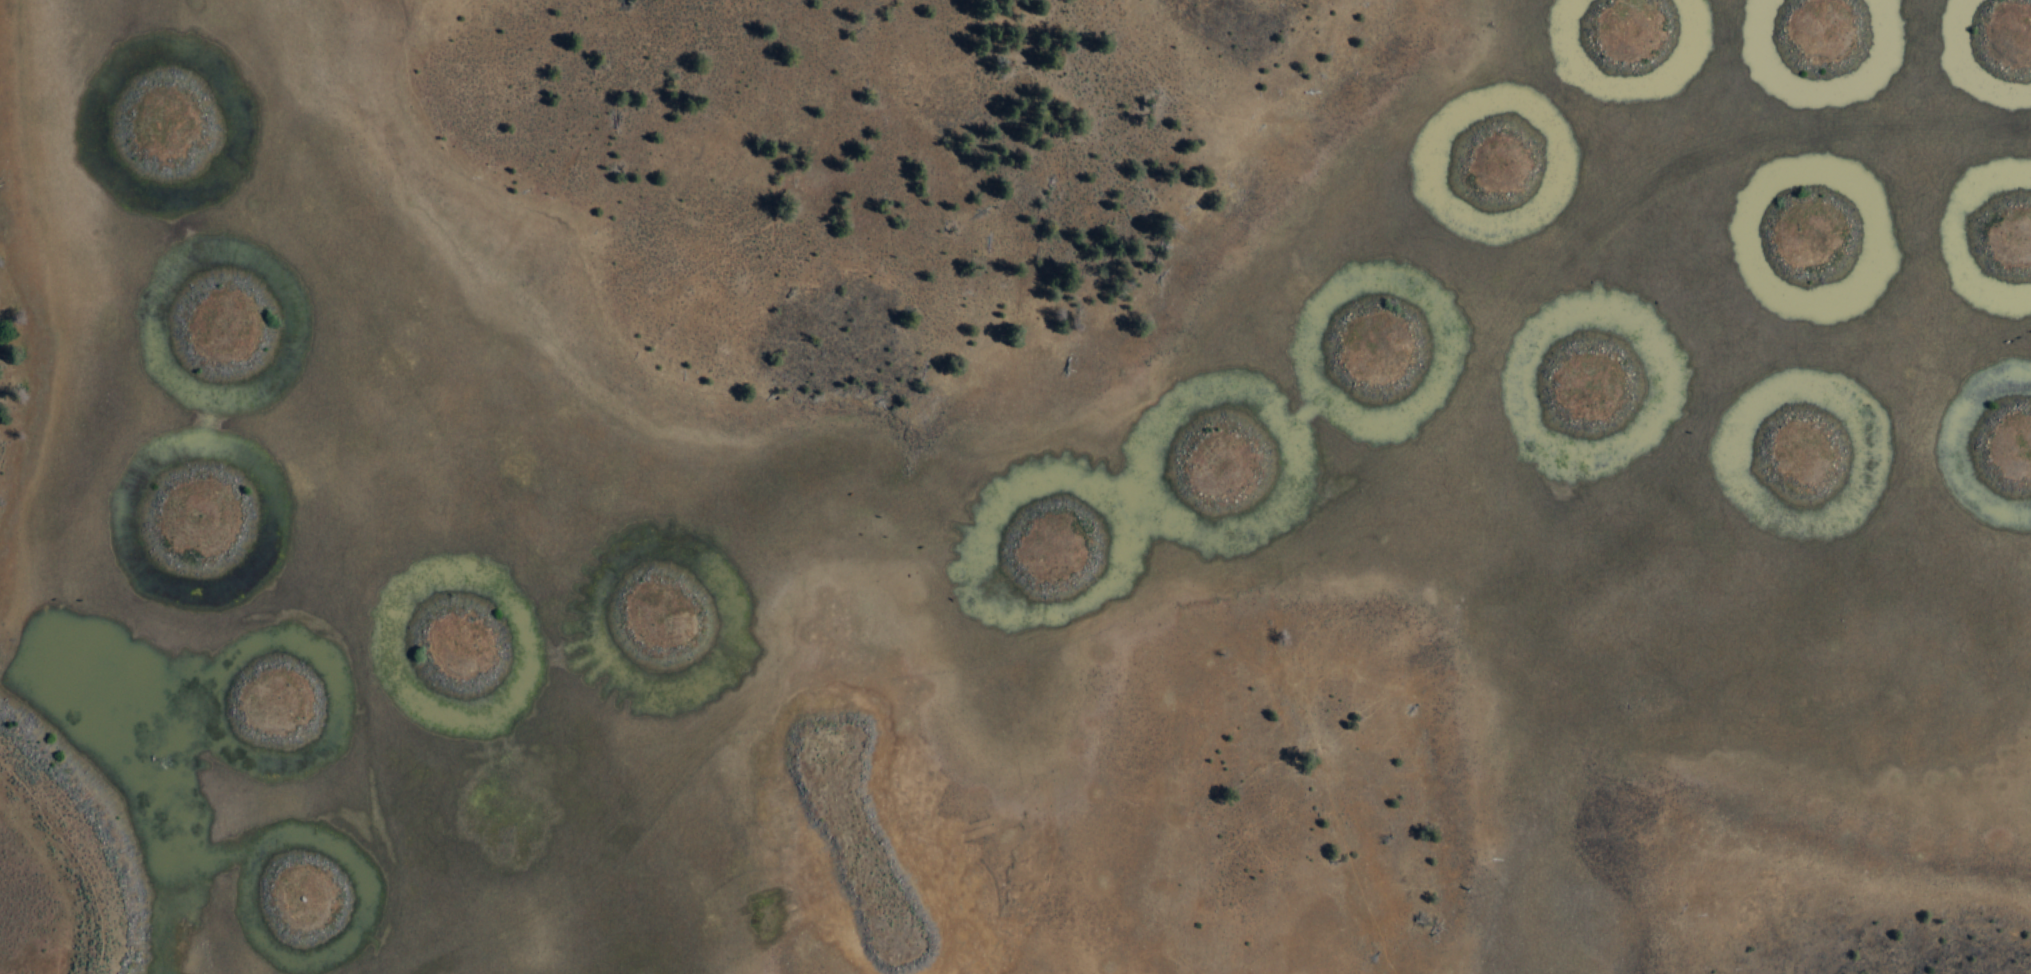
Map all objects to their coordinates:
dam: (113, 820)

